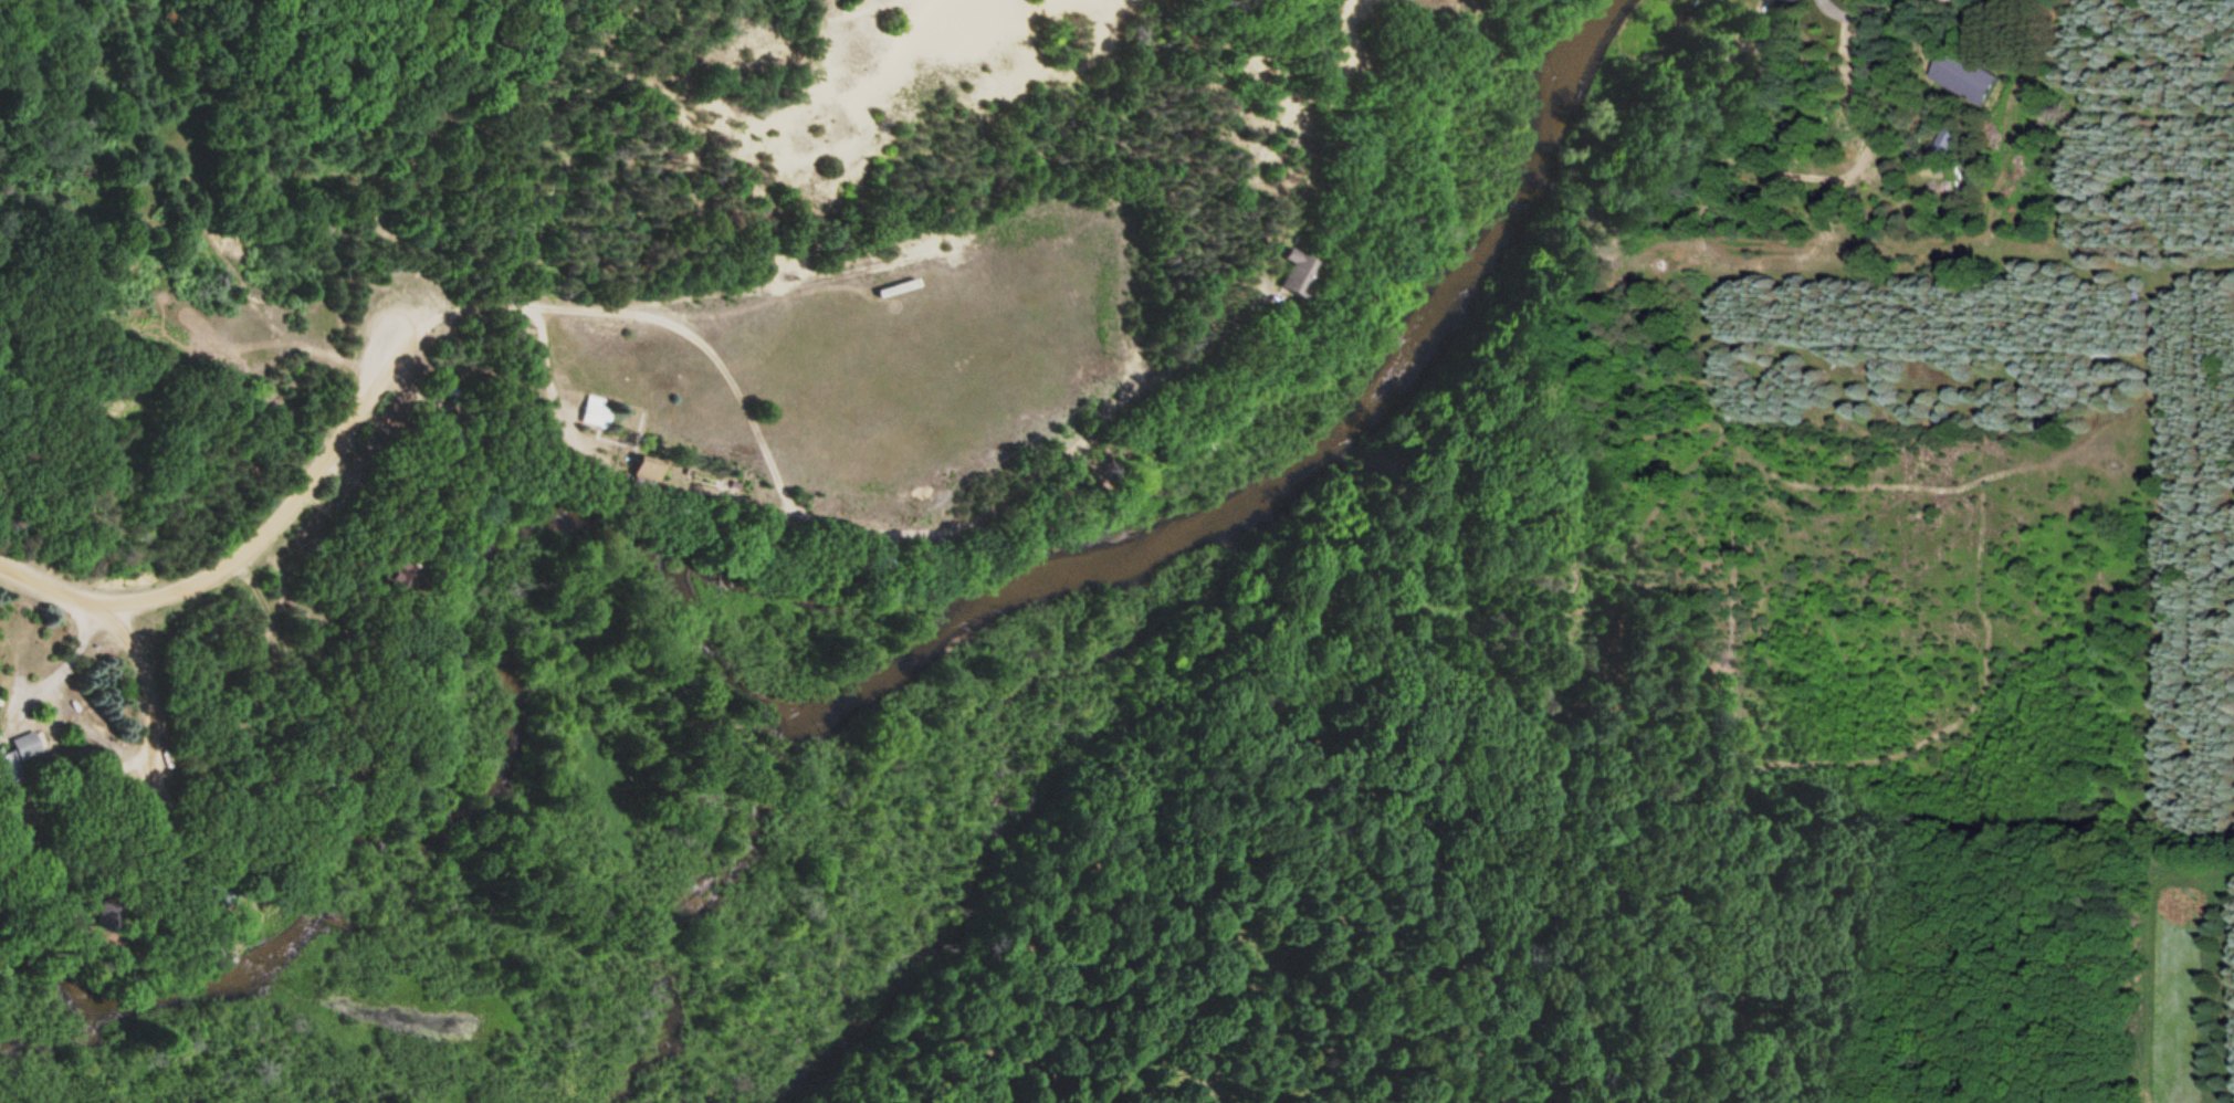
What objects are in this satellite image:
building: (1284, 277)
road: (543, 361)
building: (586, 416)
road: (810, 519)
road: (238, 556)
road: (66, 668)
road: (143, 690)
river: (774, 707)
building: (23, 752)

